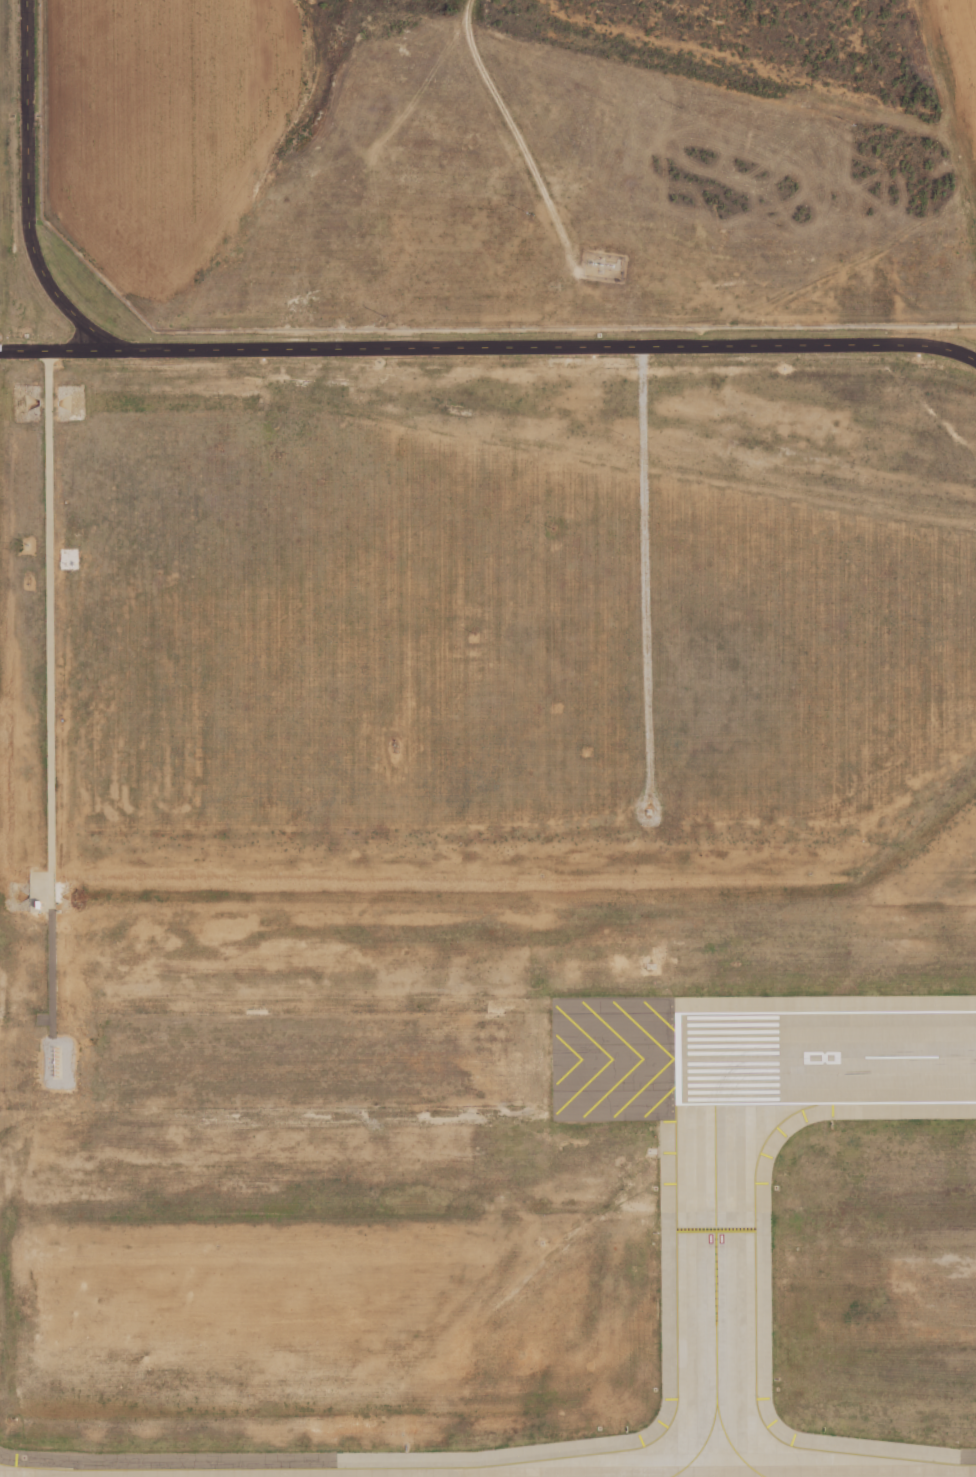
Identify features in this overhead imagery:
road: (517, 143)
road: (26, 195)
road: (489, 347)
road: (49, 694)
airport: (481, 890)
building: (37, 904)
airport runway: (825, 1058)
airport taxiway: (715, 1275)
airport taxiway: (729, 1445)

